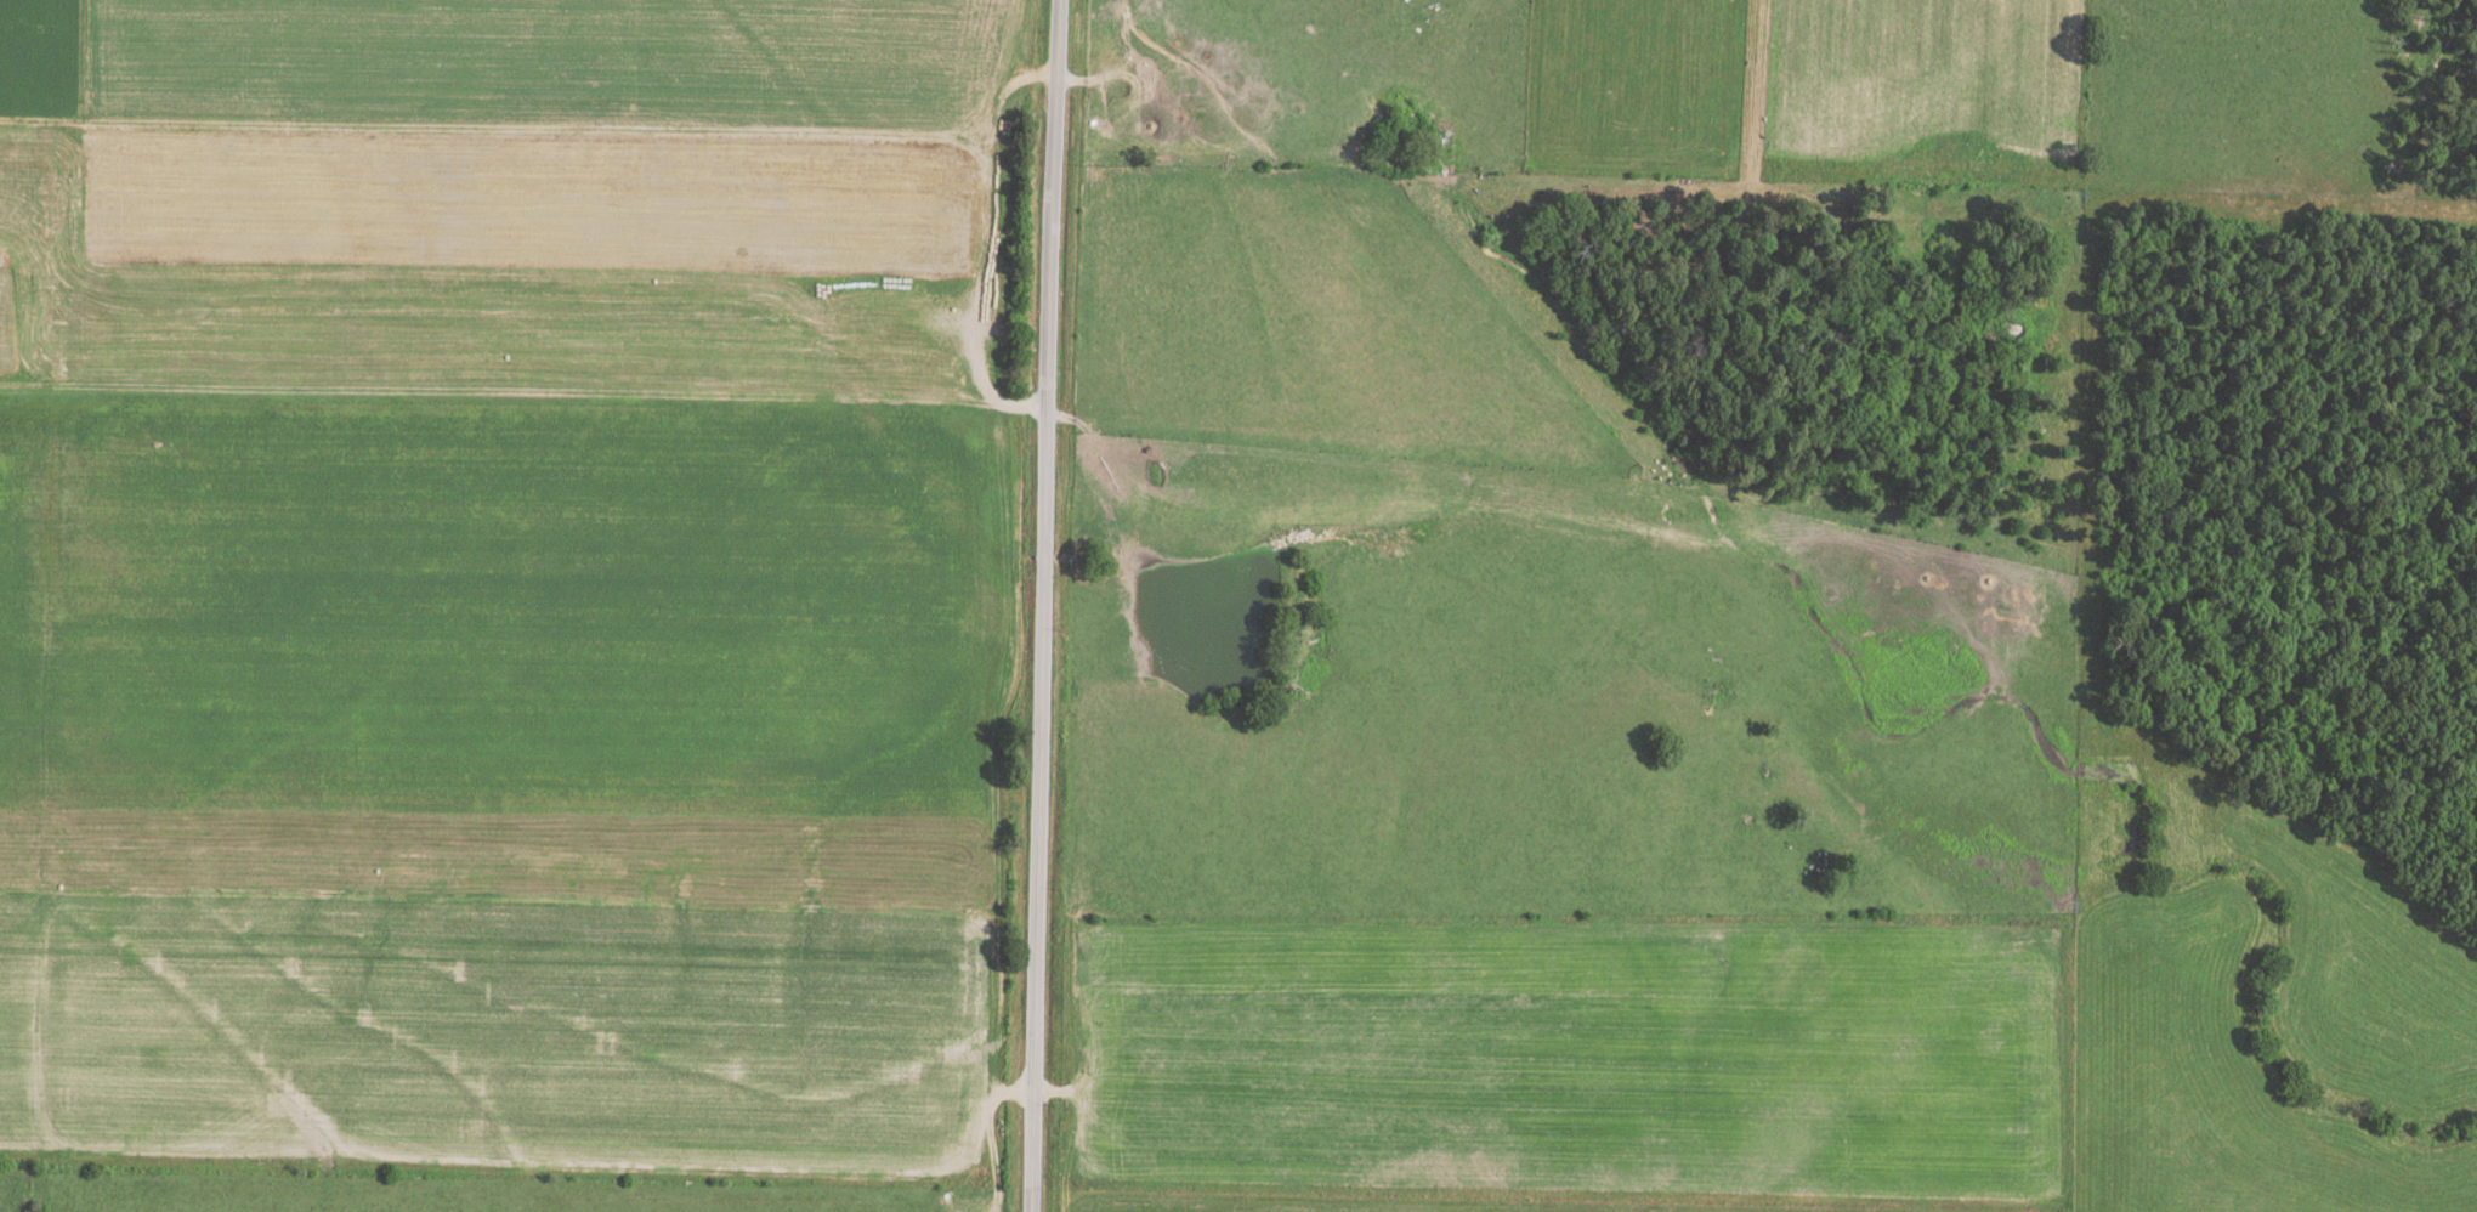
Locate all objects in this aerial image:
road: (1042, 605)

